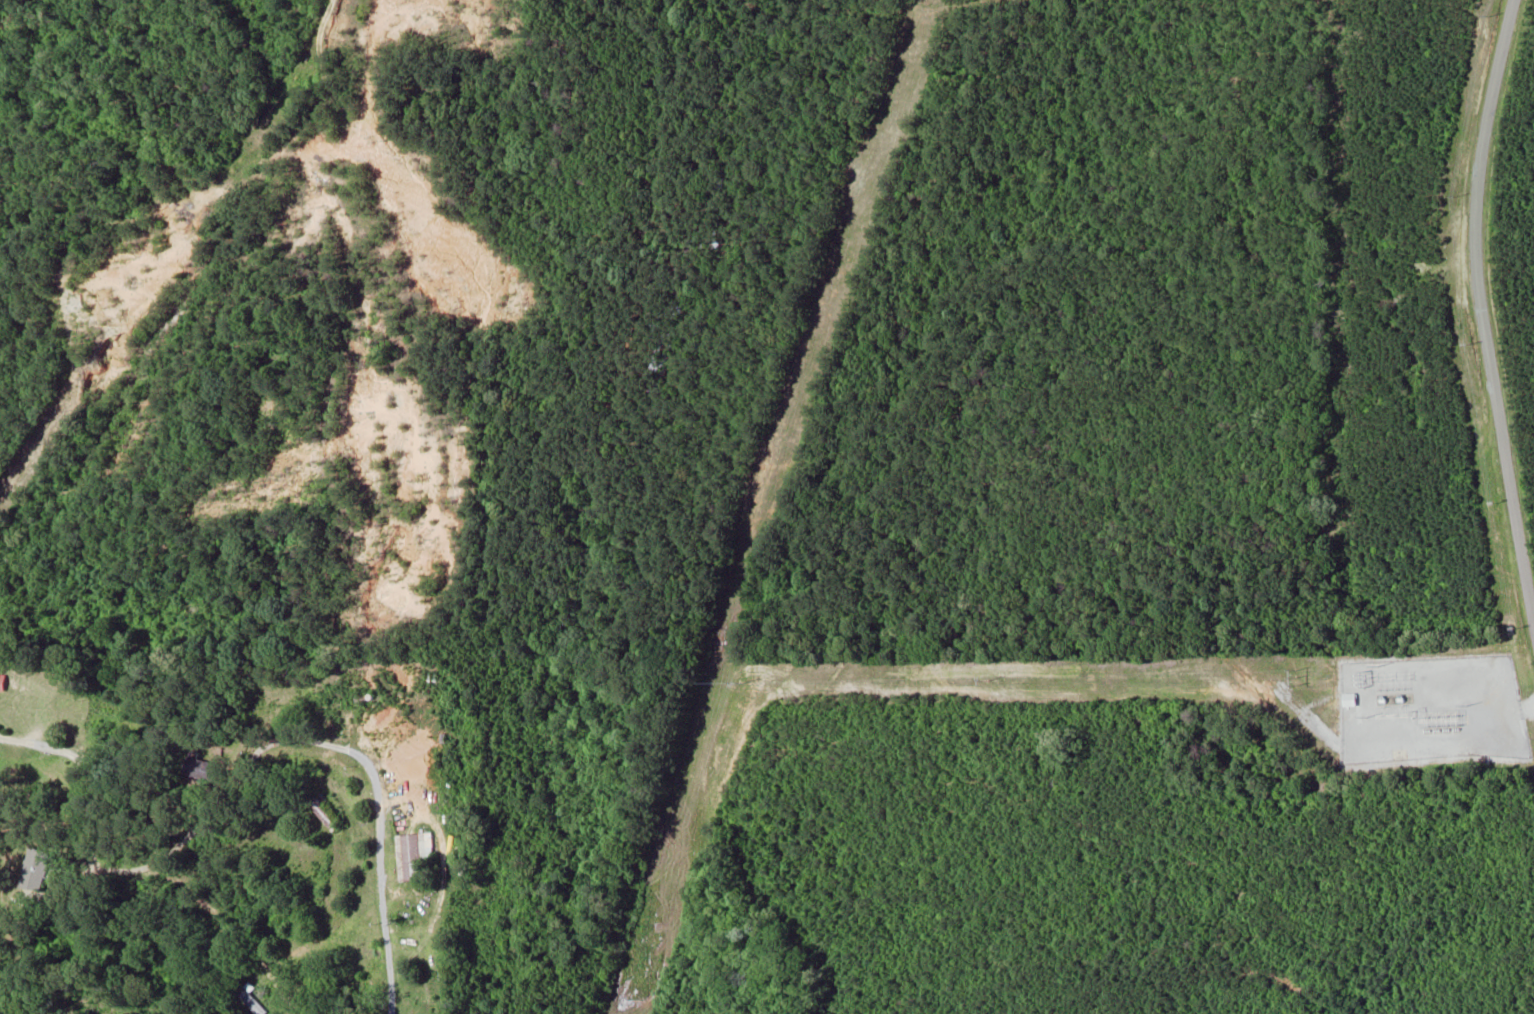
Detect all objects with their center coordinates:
road: (311, 154)
road: (1480, 310)
building: (4, 681)
building: (202, 769)
building: (314, 806)
building: (416, 856)
building: (39, 869)
road: (279, 882)

